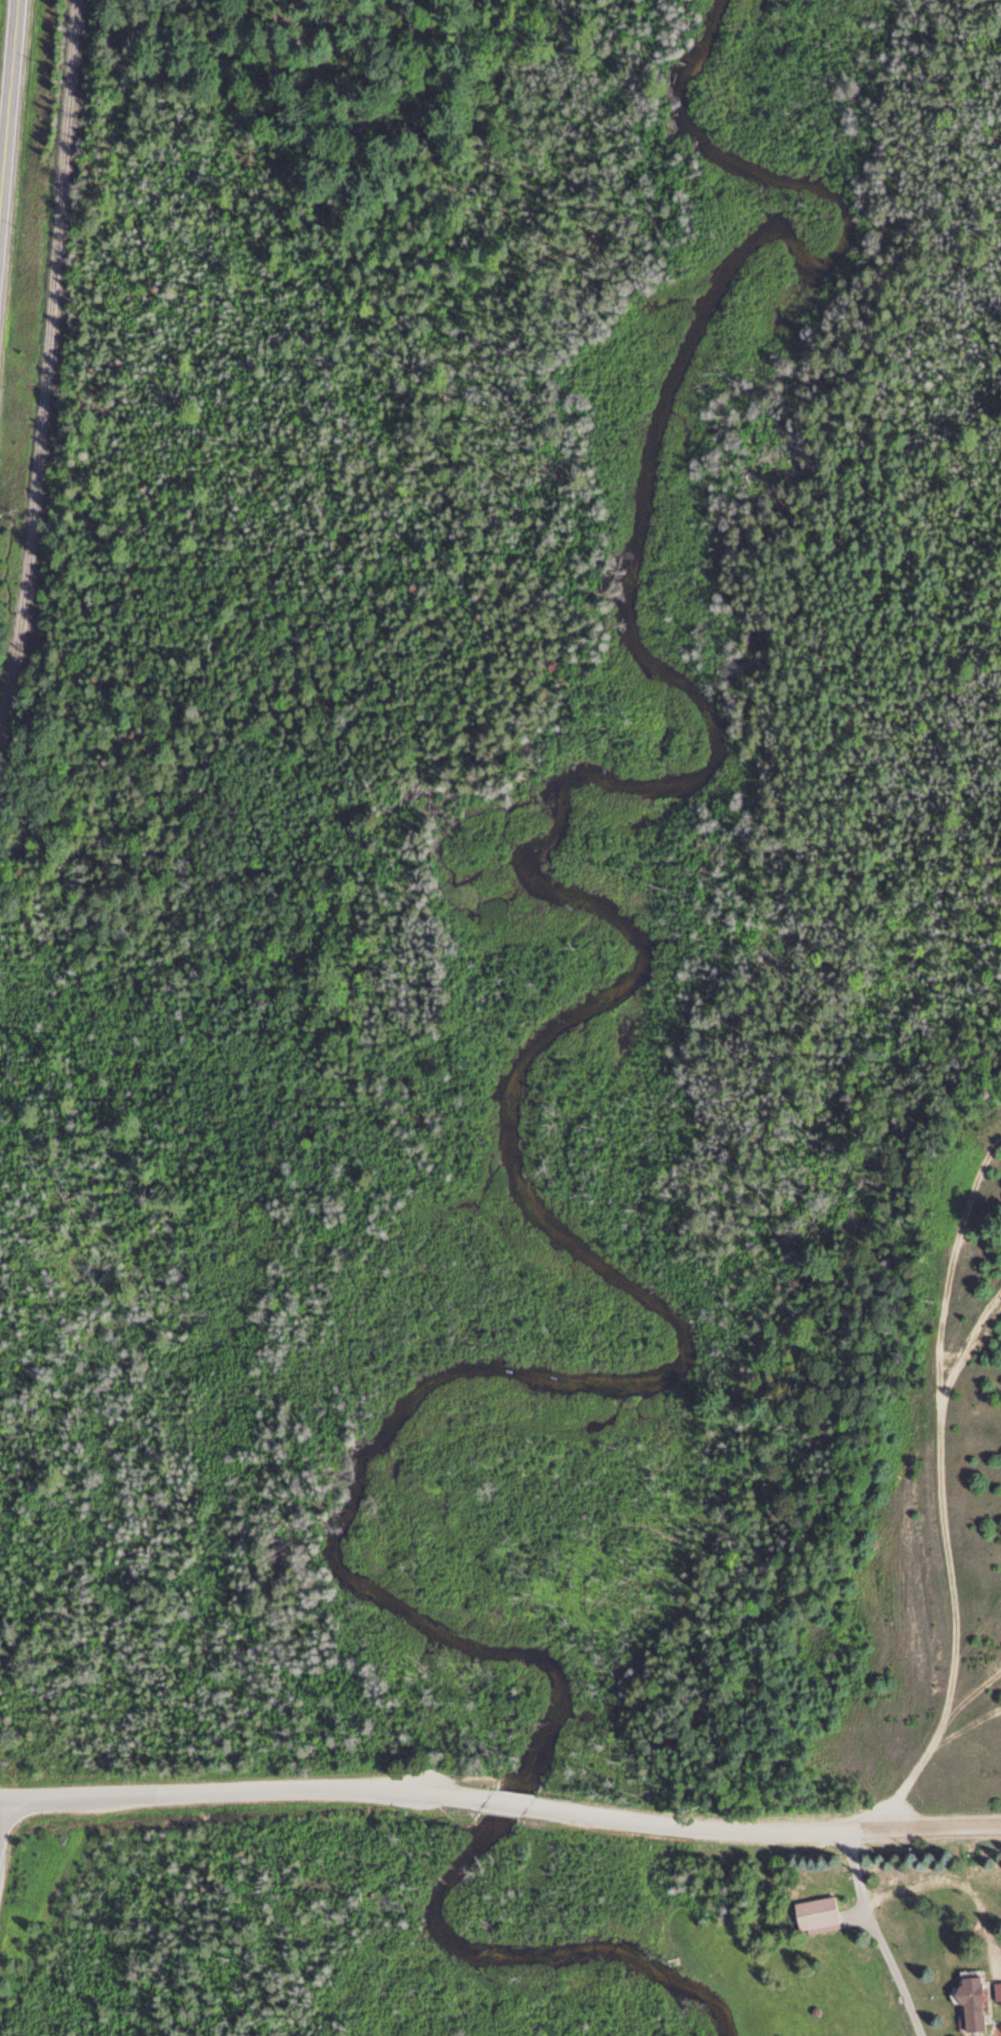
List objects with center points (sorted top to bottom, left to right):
road: (8, 106)
railway: (46, 370)
river: (507, 1099)
road: (937, 1483)
road: (242, 1789)
road: (506, 1800)
road: (691, 1824)
road: (928, 1824)
road: (854, 1902)
building: (816, 1908)
road: (877, 1933)
building: (970, 1999)
road: (976, 2035)

